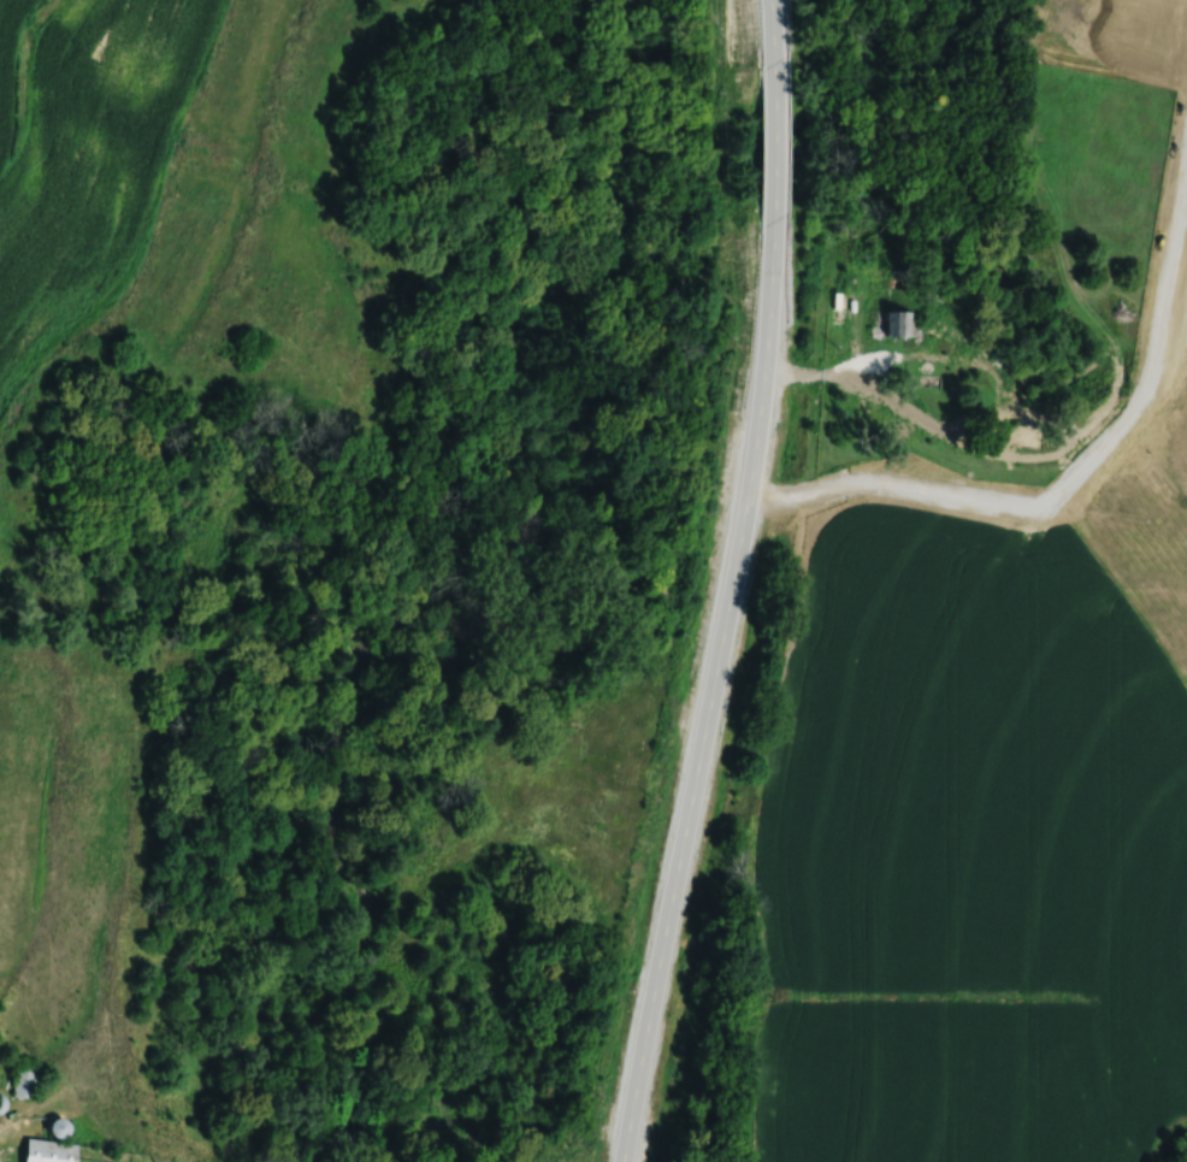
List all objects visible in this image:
road: (775, 28)
road: (774, 140)
building: (898, 324)
dam: (1116, 417)
road: (716, 695)
building: (24, 1081)
building: (1, 1104)
building: (48, 1151)

